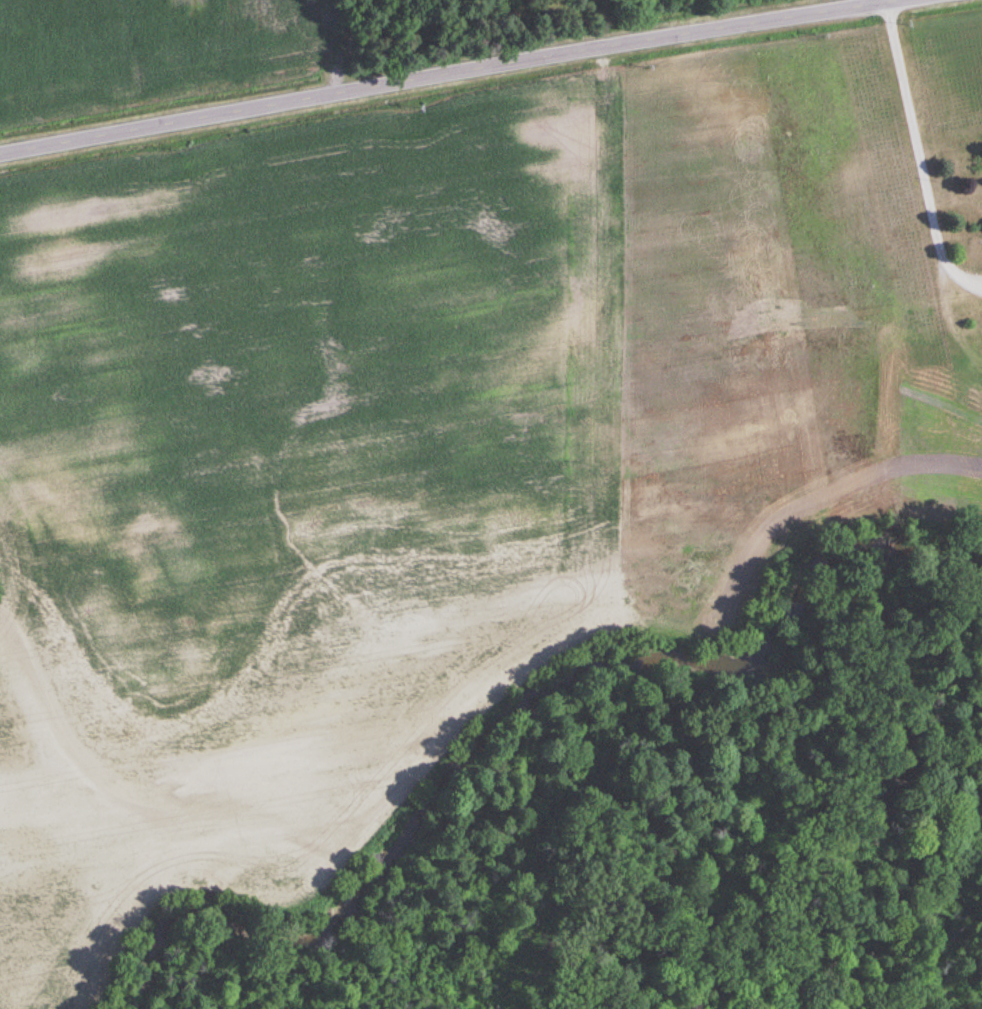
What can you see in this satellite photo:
road: (446, 75)
road: (920, 150)
river: (510, 721)

